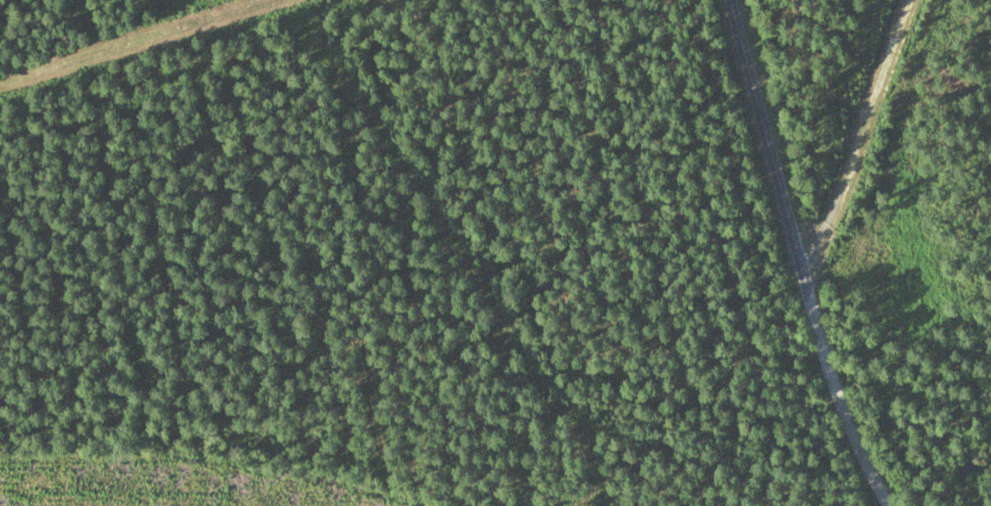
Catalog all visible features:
road: (740, 48)
road: (860, 142)
road: (813, 304)

